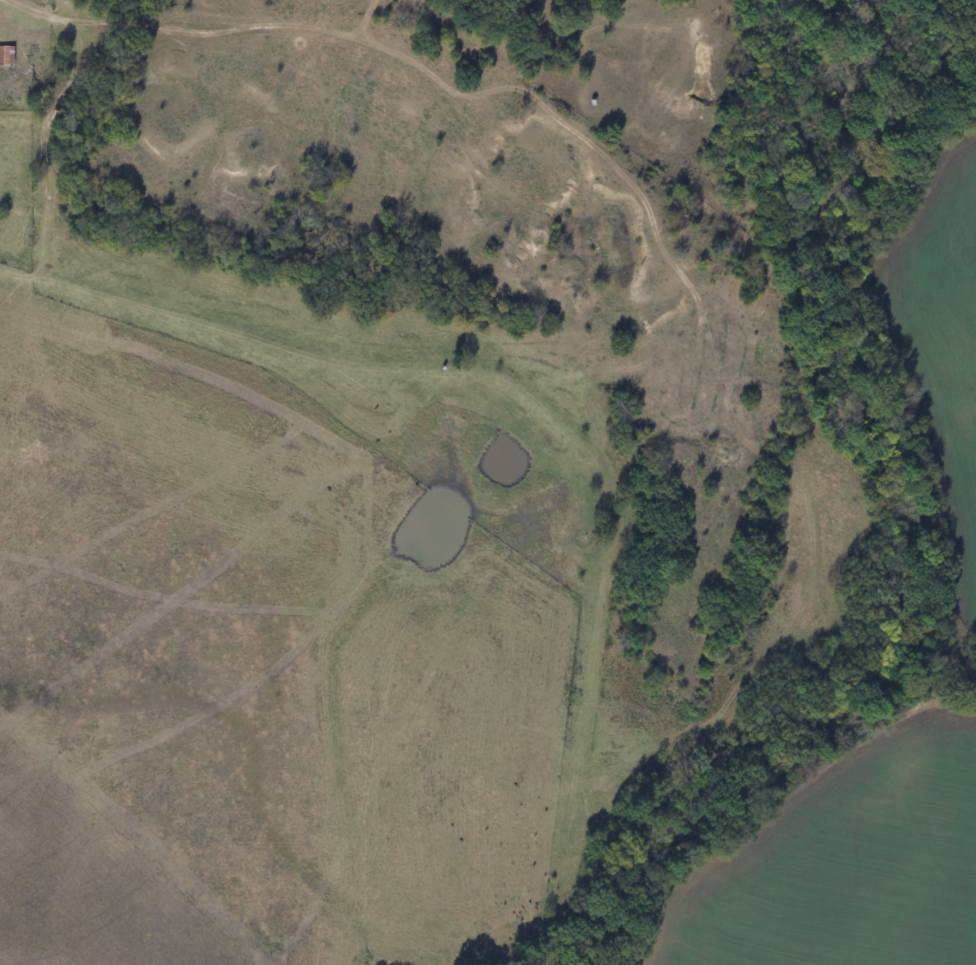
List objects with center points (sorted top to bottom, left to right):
building: (6, 56)

